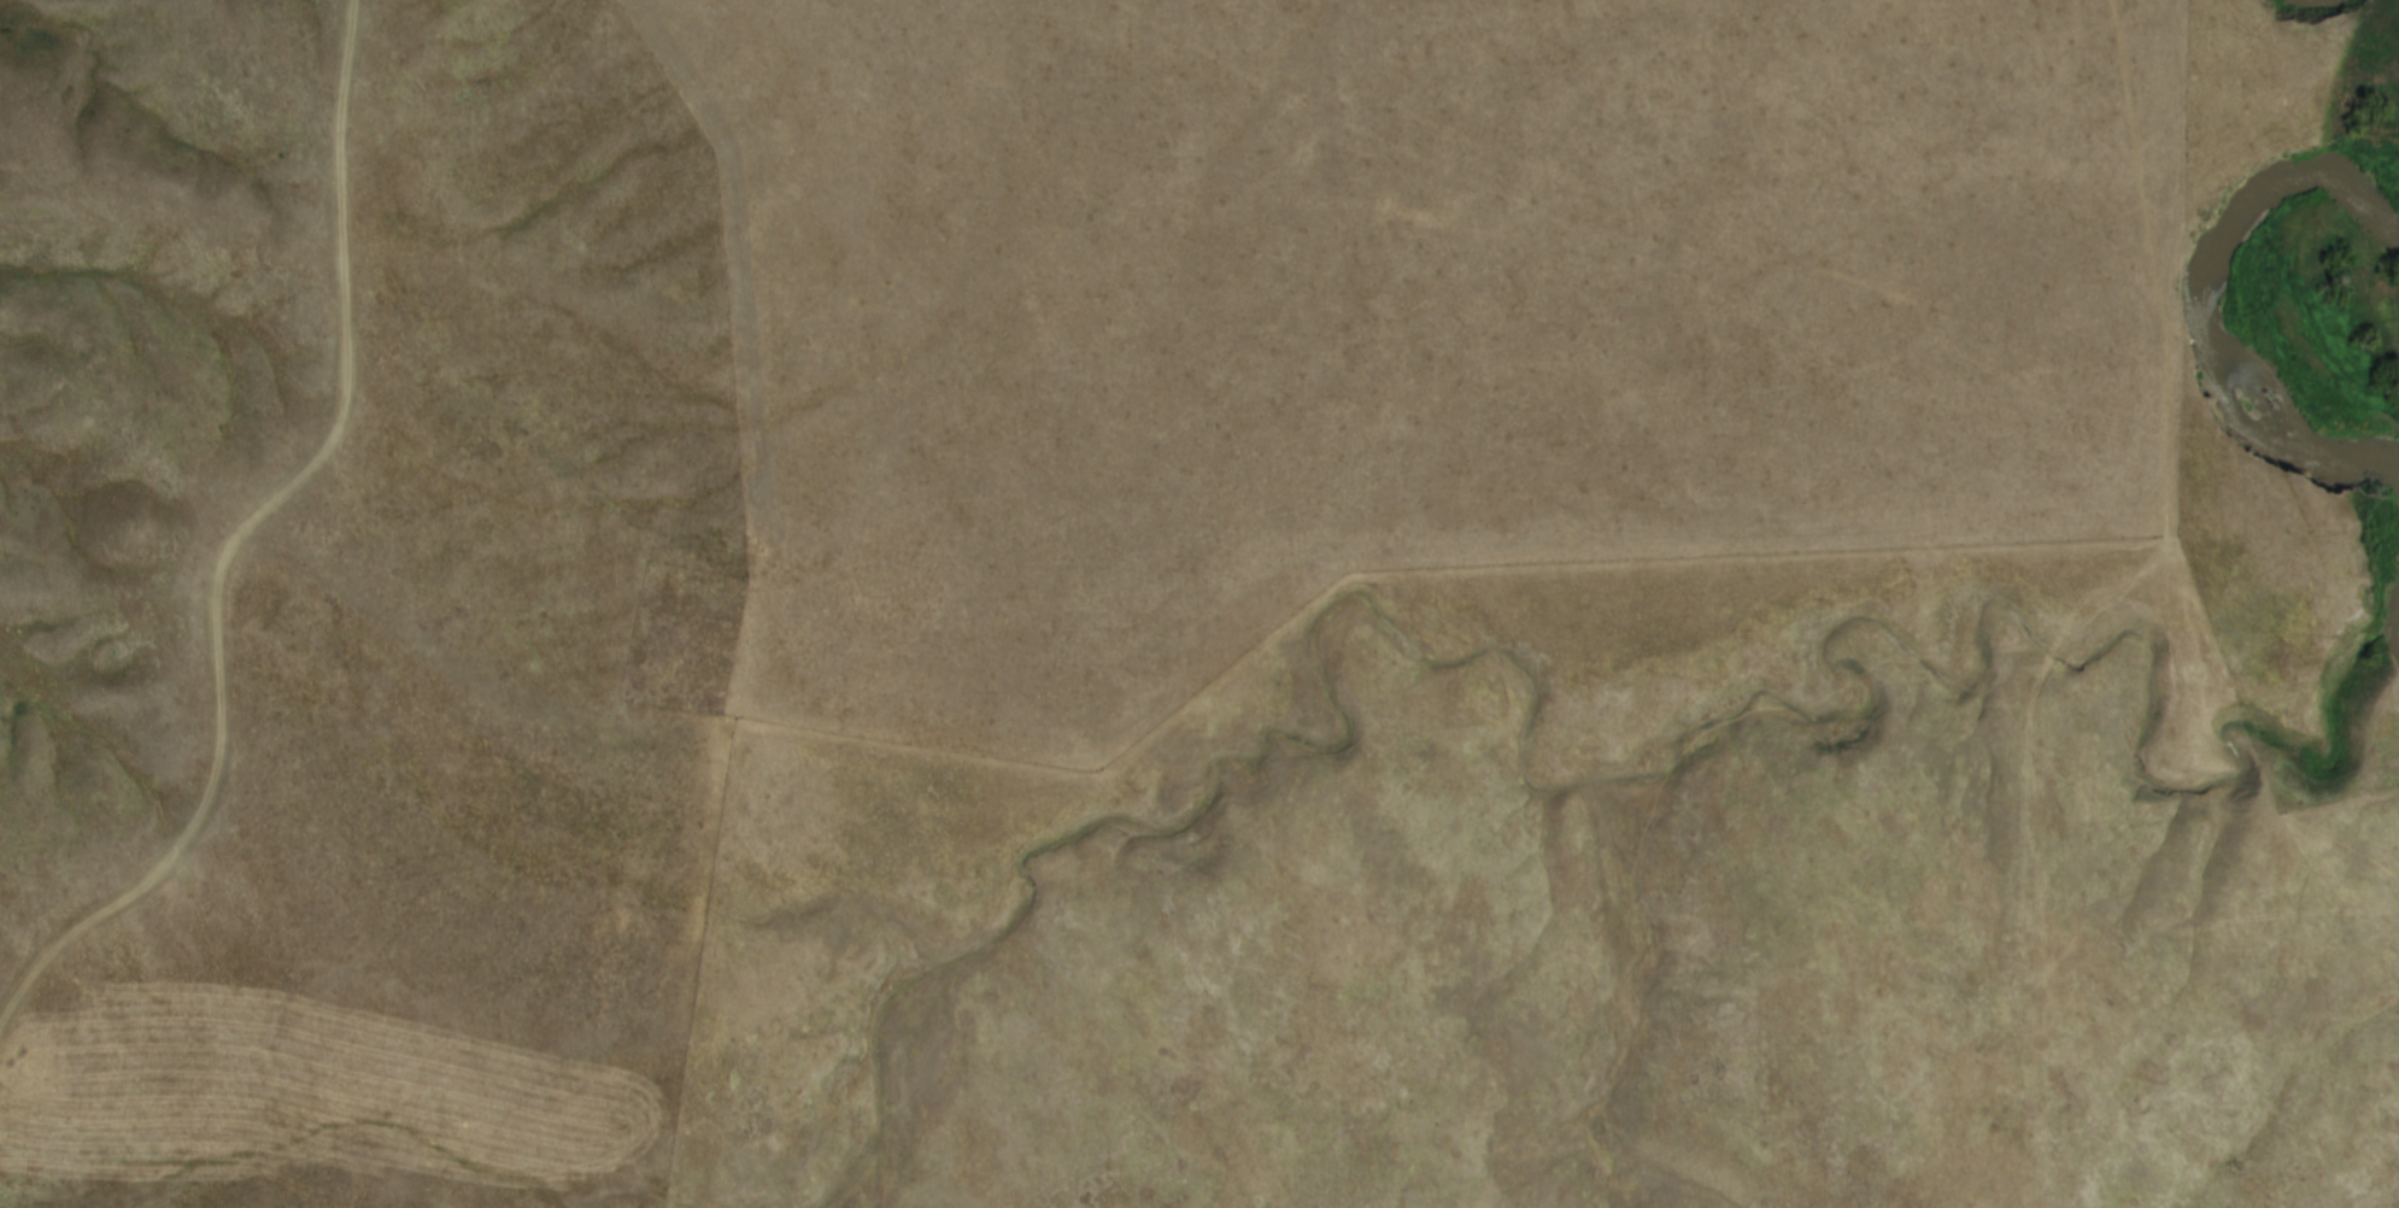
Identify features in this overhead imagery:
river: (2223, 310)
river: (2395, 611)

